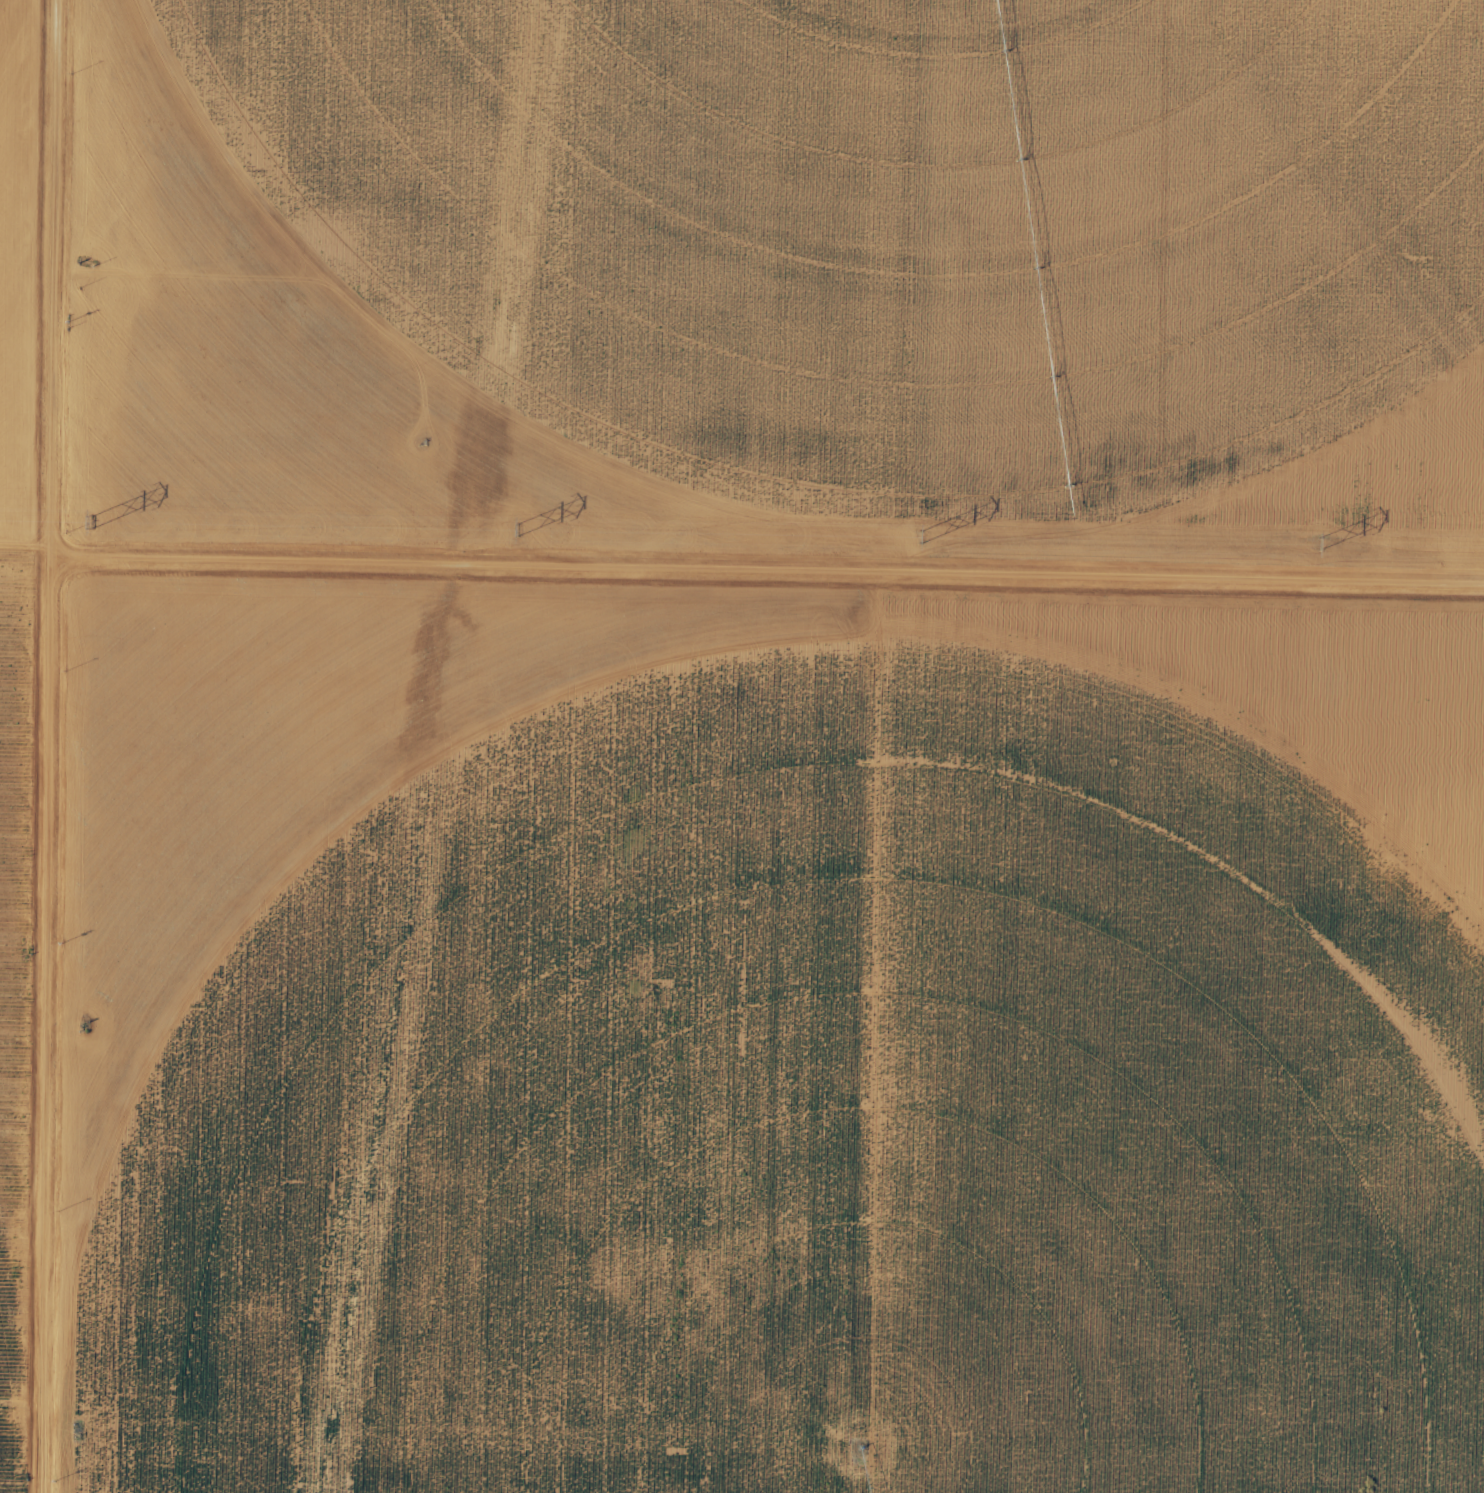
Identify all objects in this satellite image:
road: (1003, 291)
power tower: (93, 517)
power tower: (518, 529)
power tower: (920, 534)
power tower: (1316, 542)
road: (769, 576)
road: (52, 746)

